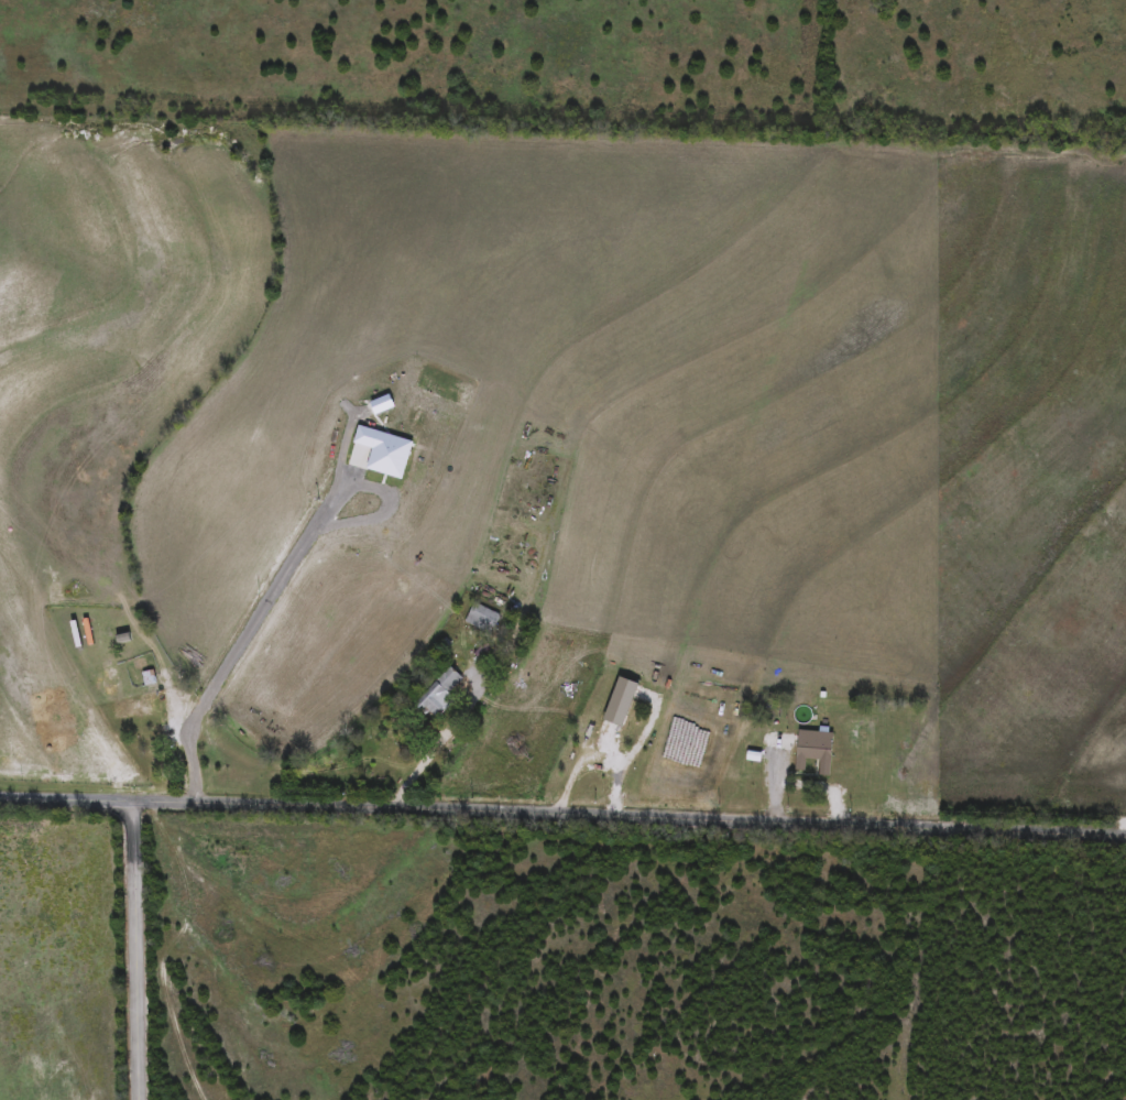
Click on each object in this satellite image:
road: (284, 578)
building: (480, 619)
building: (84, 622)
building: (146, 678)
building: (437, 693)
road: (447, 733)
building: (602, 733)
road: (632, 751)
building: (807, 751)
road: (573, 771)
road: (562, 813)
road: (142, 948)

